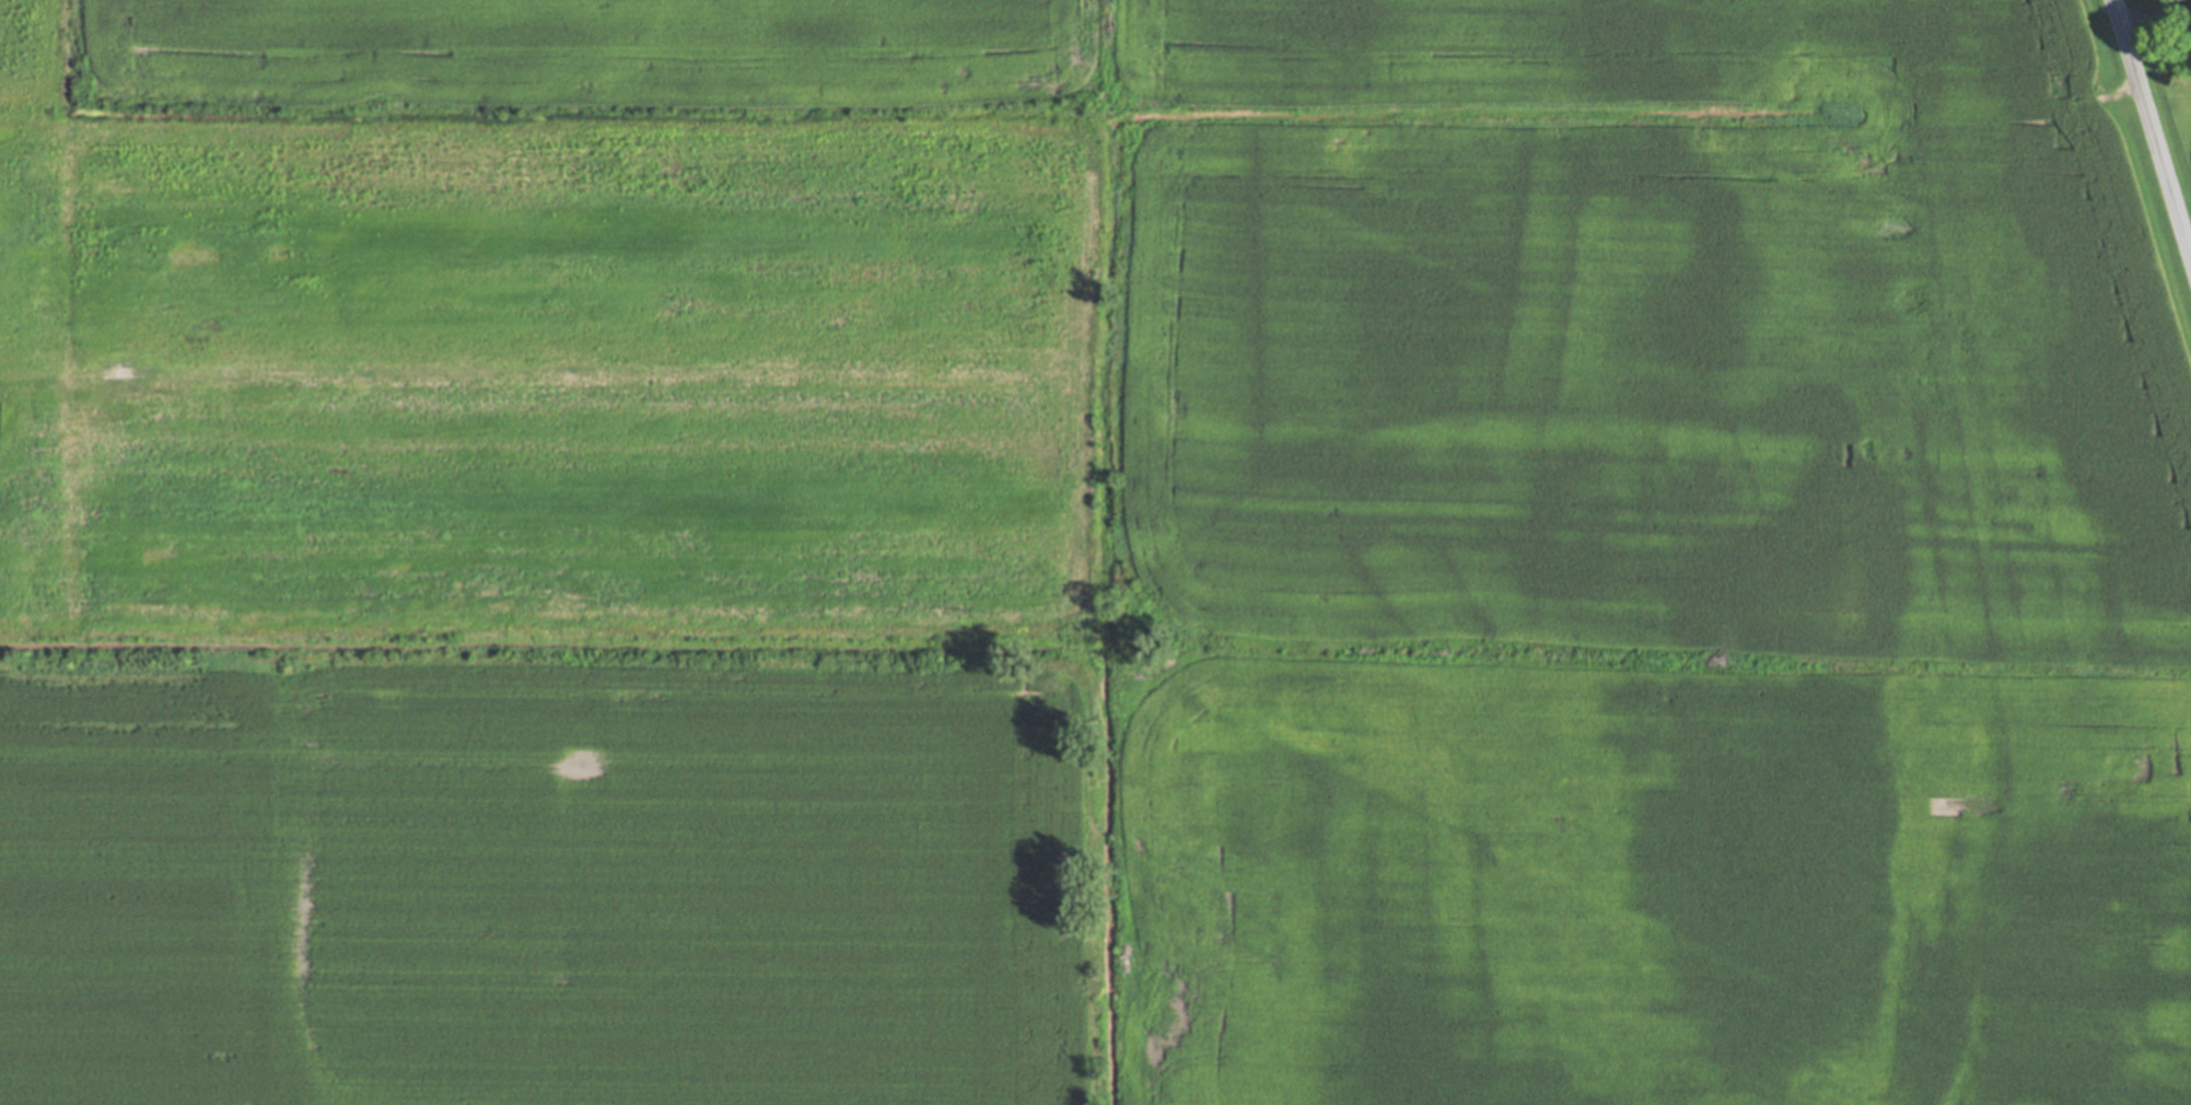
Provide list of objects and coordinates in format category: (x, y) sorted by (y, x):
road: (2157, 16)
road: (2154, 124)

